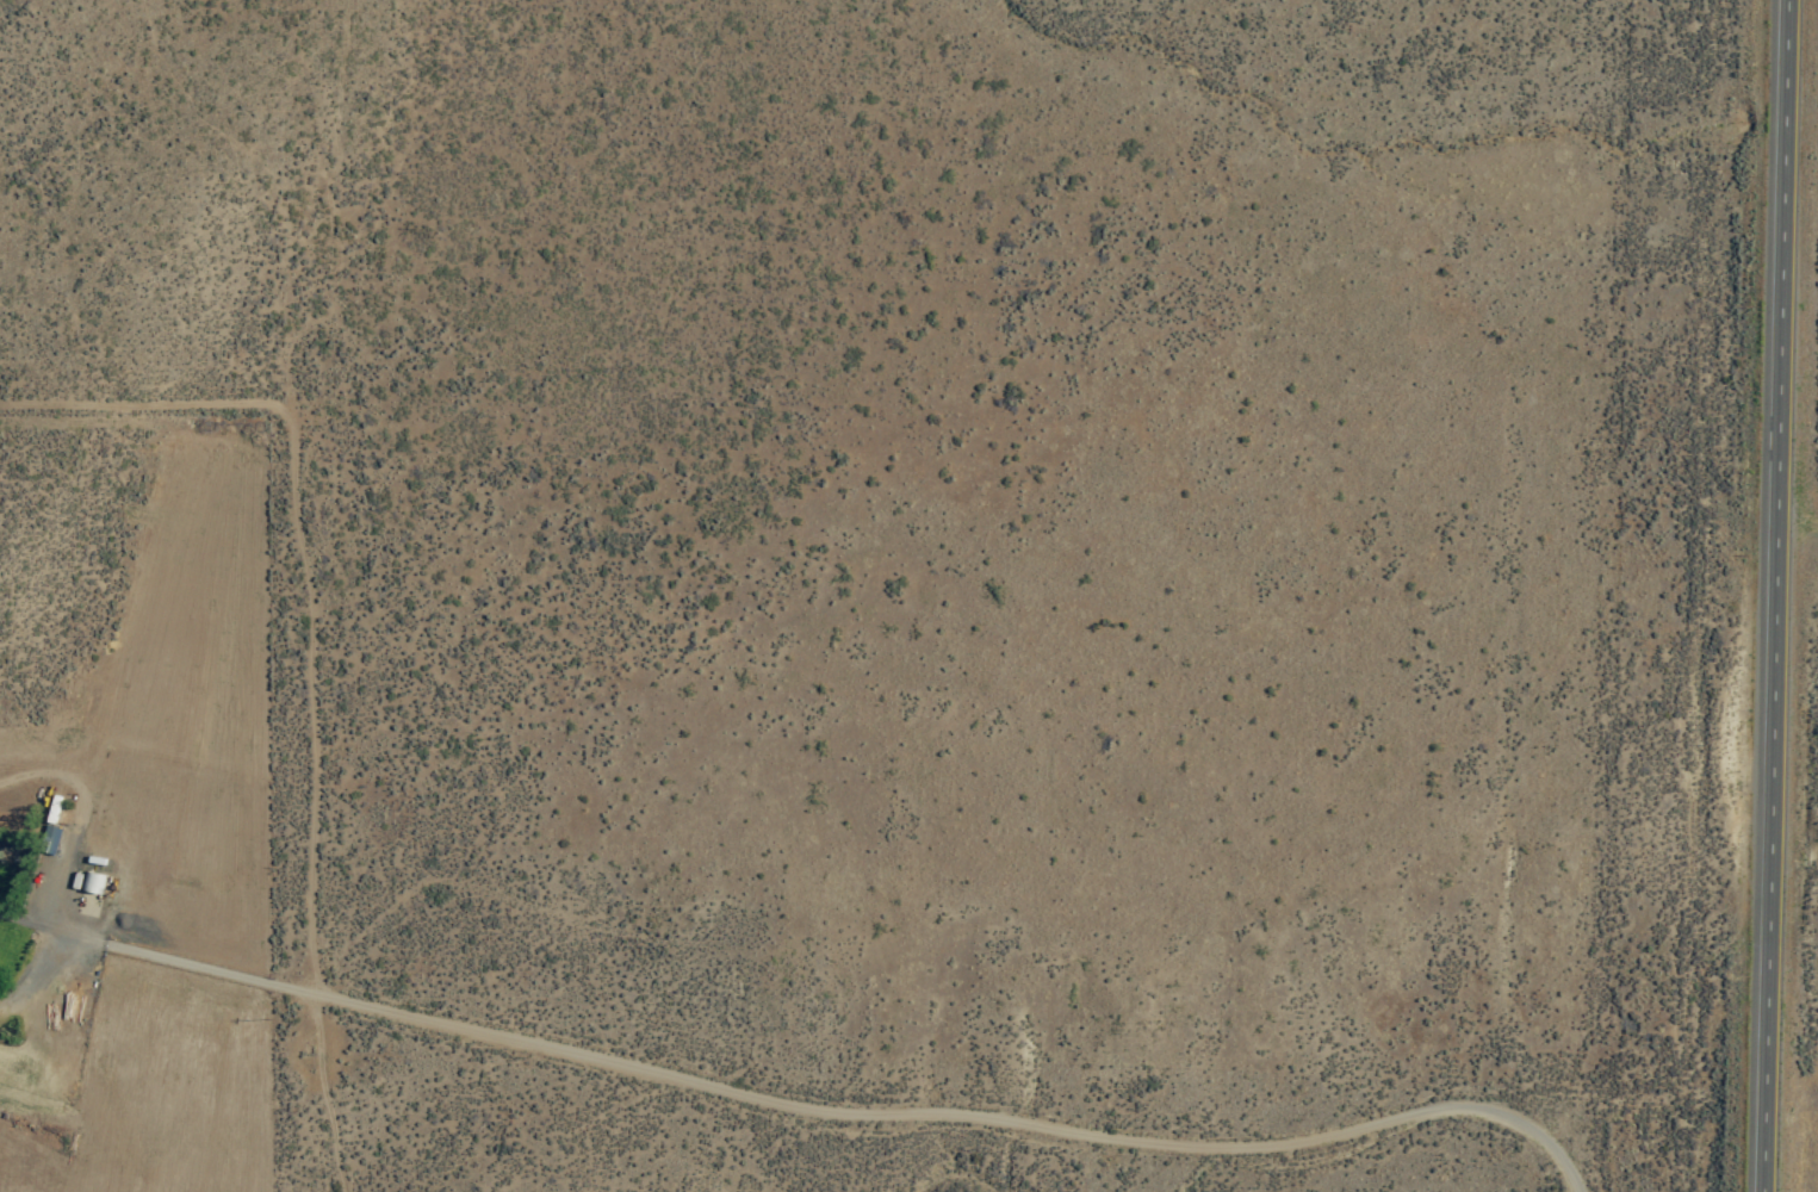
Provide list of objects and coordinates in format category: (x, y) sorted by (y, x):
crop: (1608, 54)
road: (1781, 596)
crop: (1637, 1084)
road: (782, 1138)

